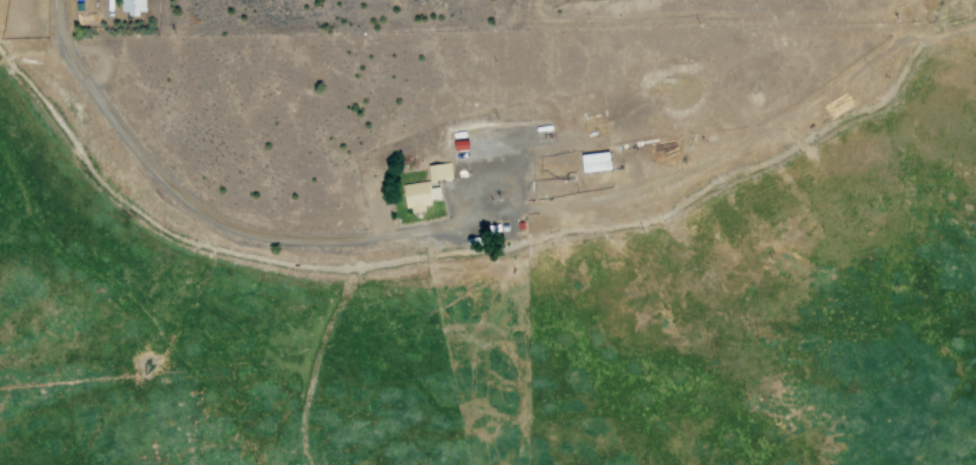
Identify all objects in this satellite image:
building: (132, 6)
building: (592, 162)
building: (424, 188)
road: (200, 220)

